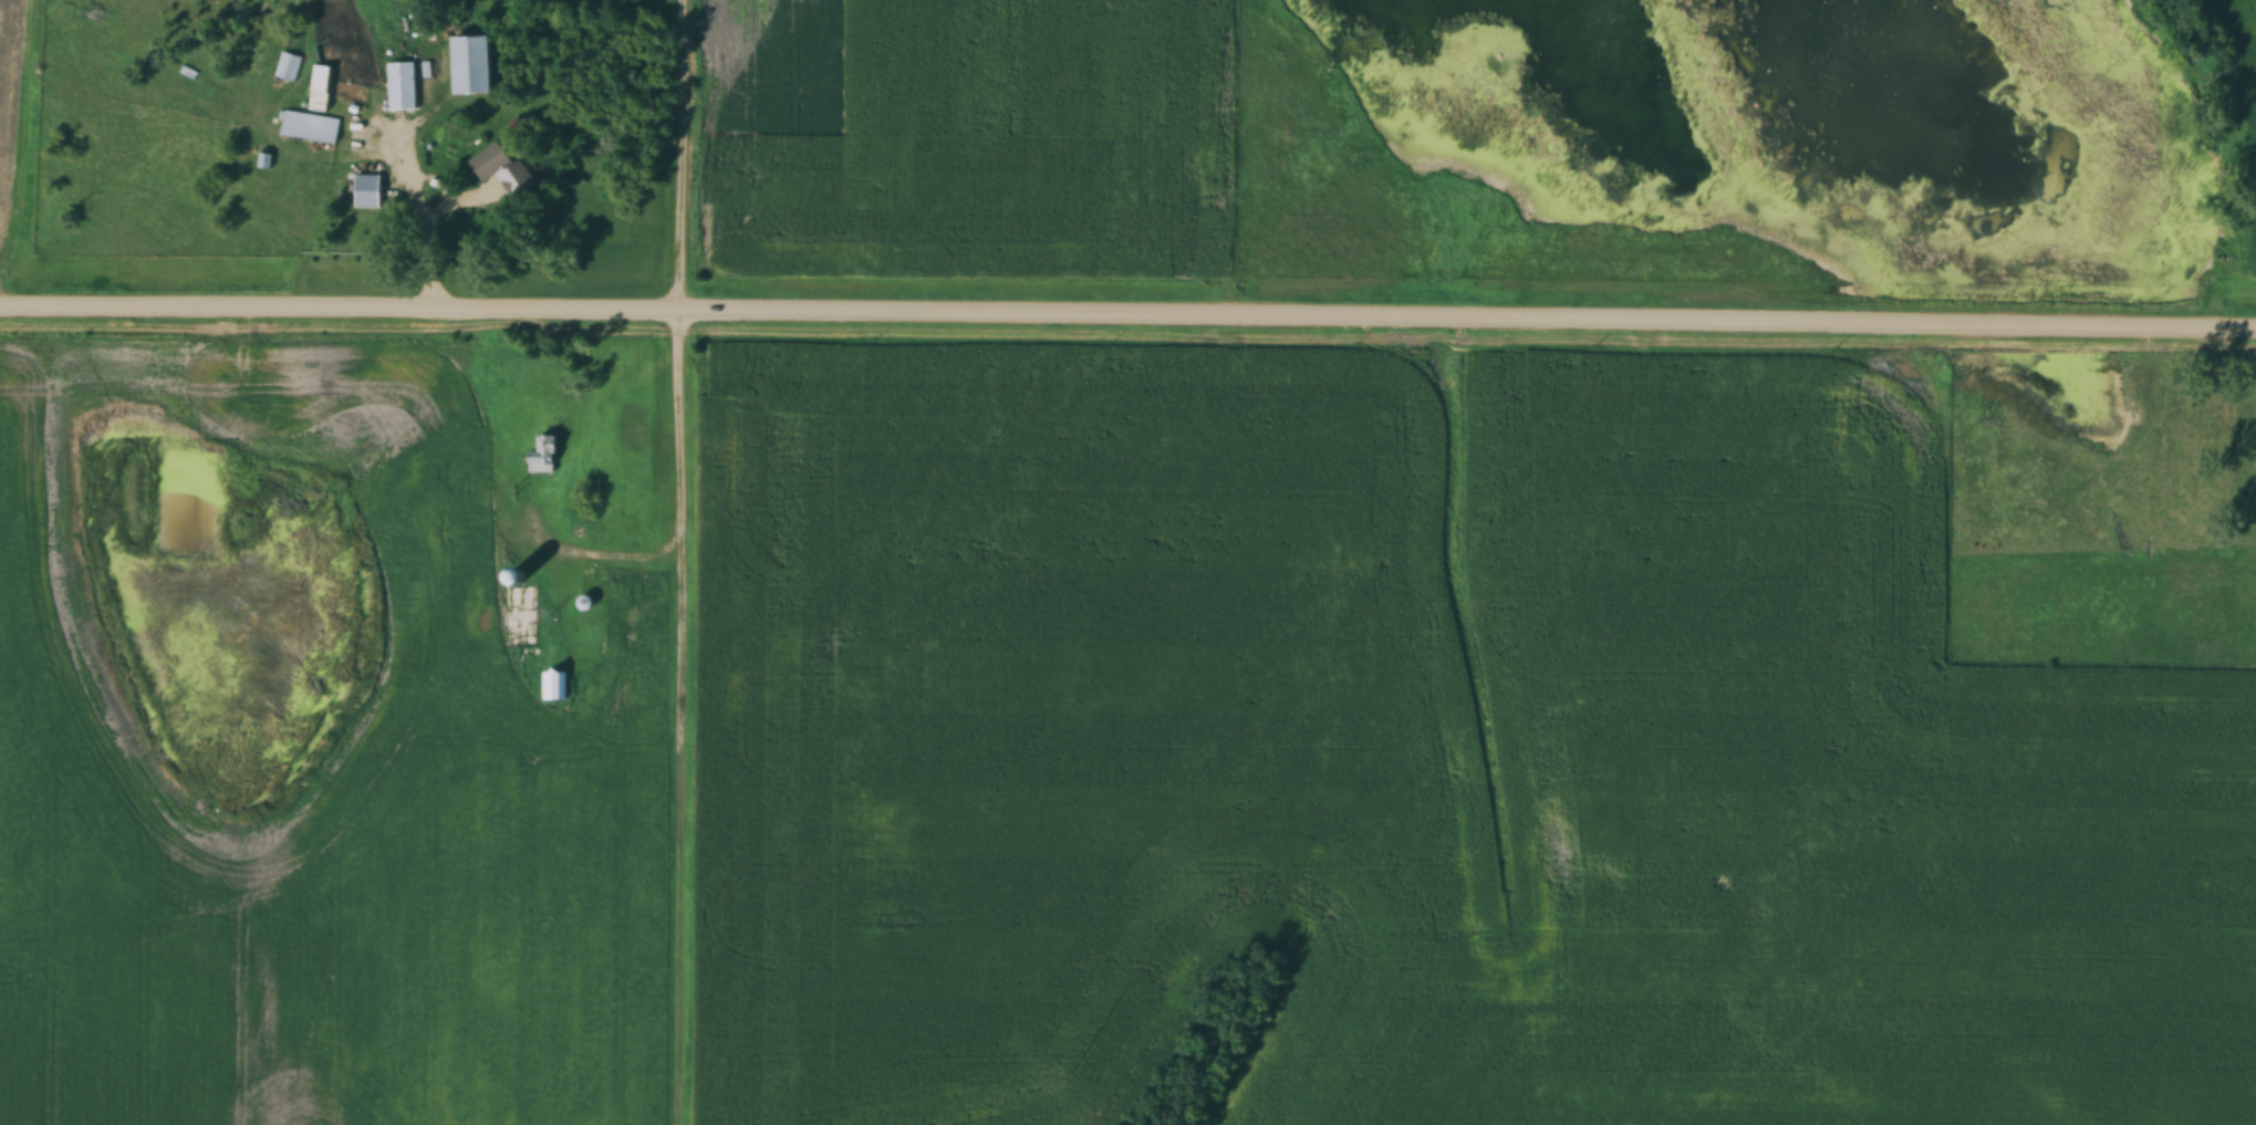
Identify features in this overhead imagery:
building: (472, 64)
building: (287, 67)
building: (399, 86)
building: (319, 88)
building: (309, 128)
building: (491, 163)
building: (367, 192)
road: (1127, 311)
building: (543, 457)
building: (478, 492)
road: (679, 562)

